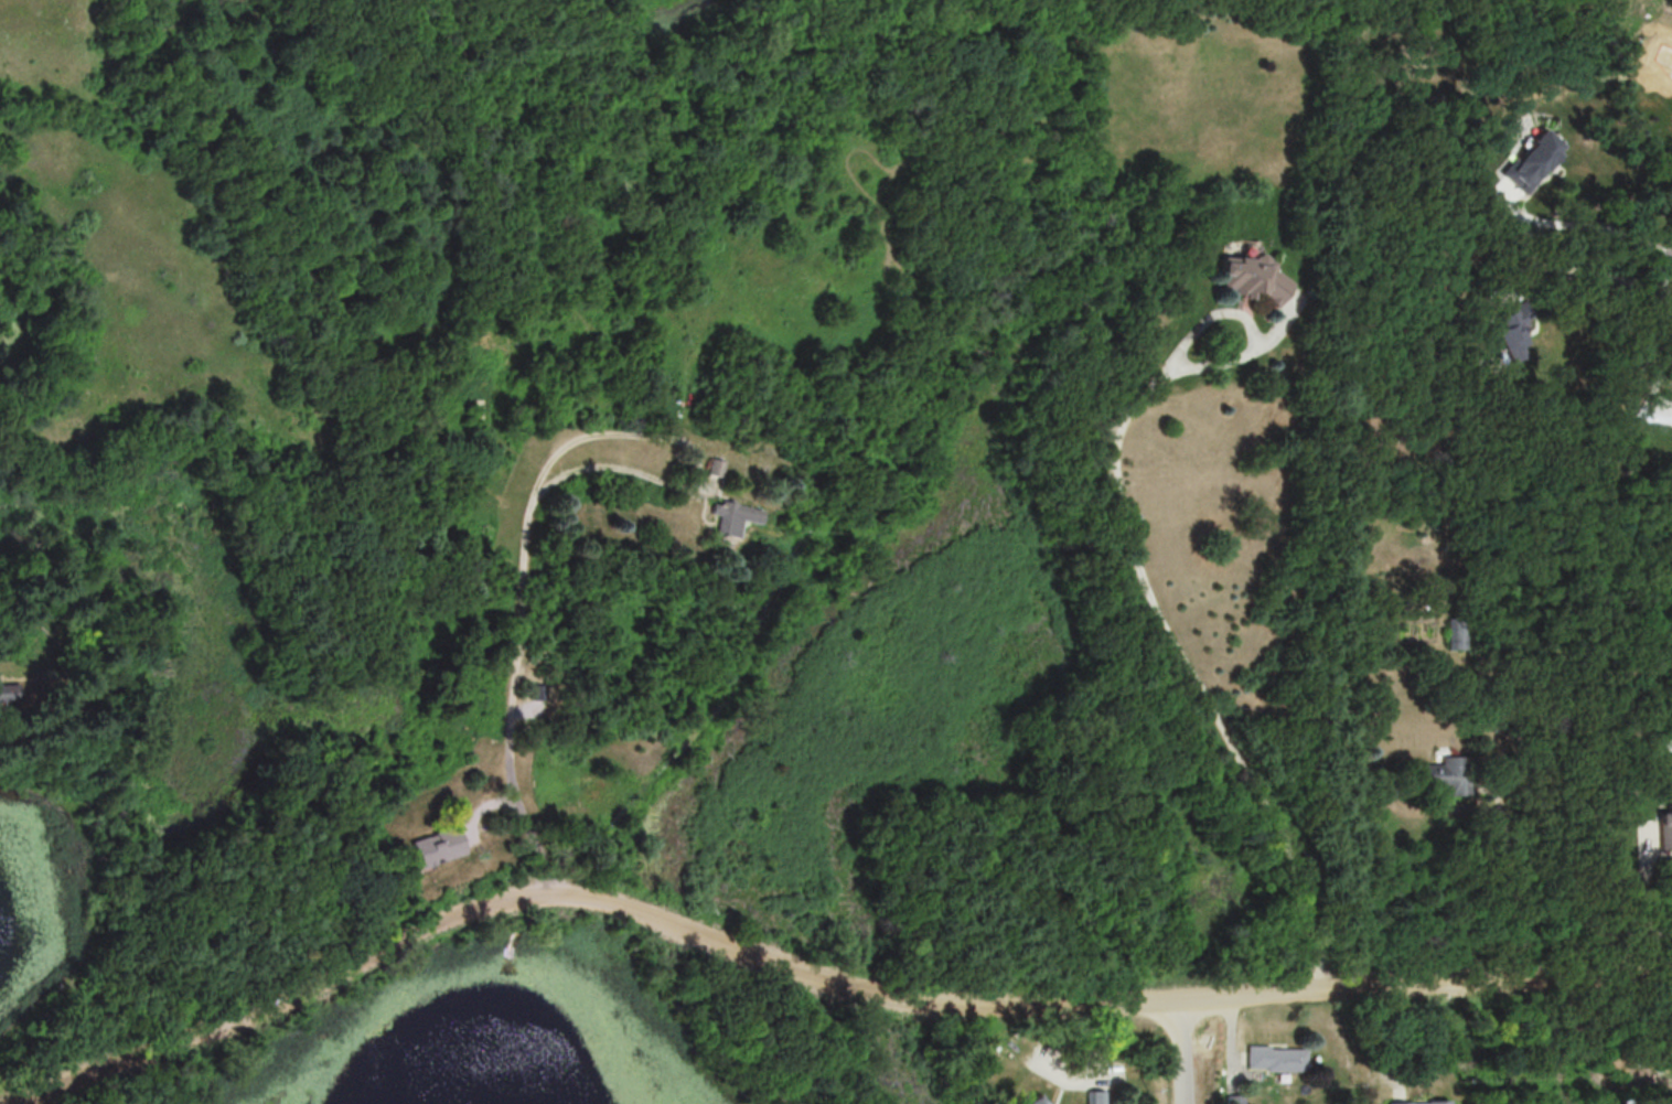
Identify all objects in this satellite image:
building: (1531, 160)
road: (1588, 227)
road: (1580, 272)
building: (1250, 277)
building: (1510, 335)
road: (1655, 395)
building: (715, 467)
building: (732, 516)
road: (1136, 570)
road: (523, 615)
building: (10, 694)
building: (66, 705)
building: (1437, 776)
building: (1665, 824)
building: (431, 845)
road: (1515, 881)
road: (1636, 900)
road: (816, 977)
road: (1185, 1052)
building: (1274, 1058)
building: (1094, 1096)
building: (1233, 1098)
building: (1037, 1102)

